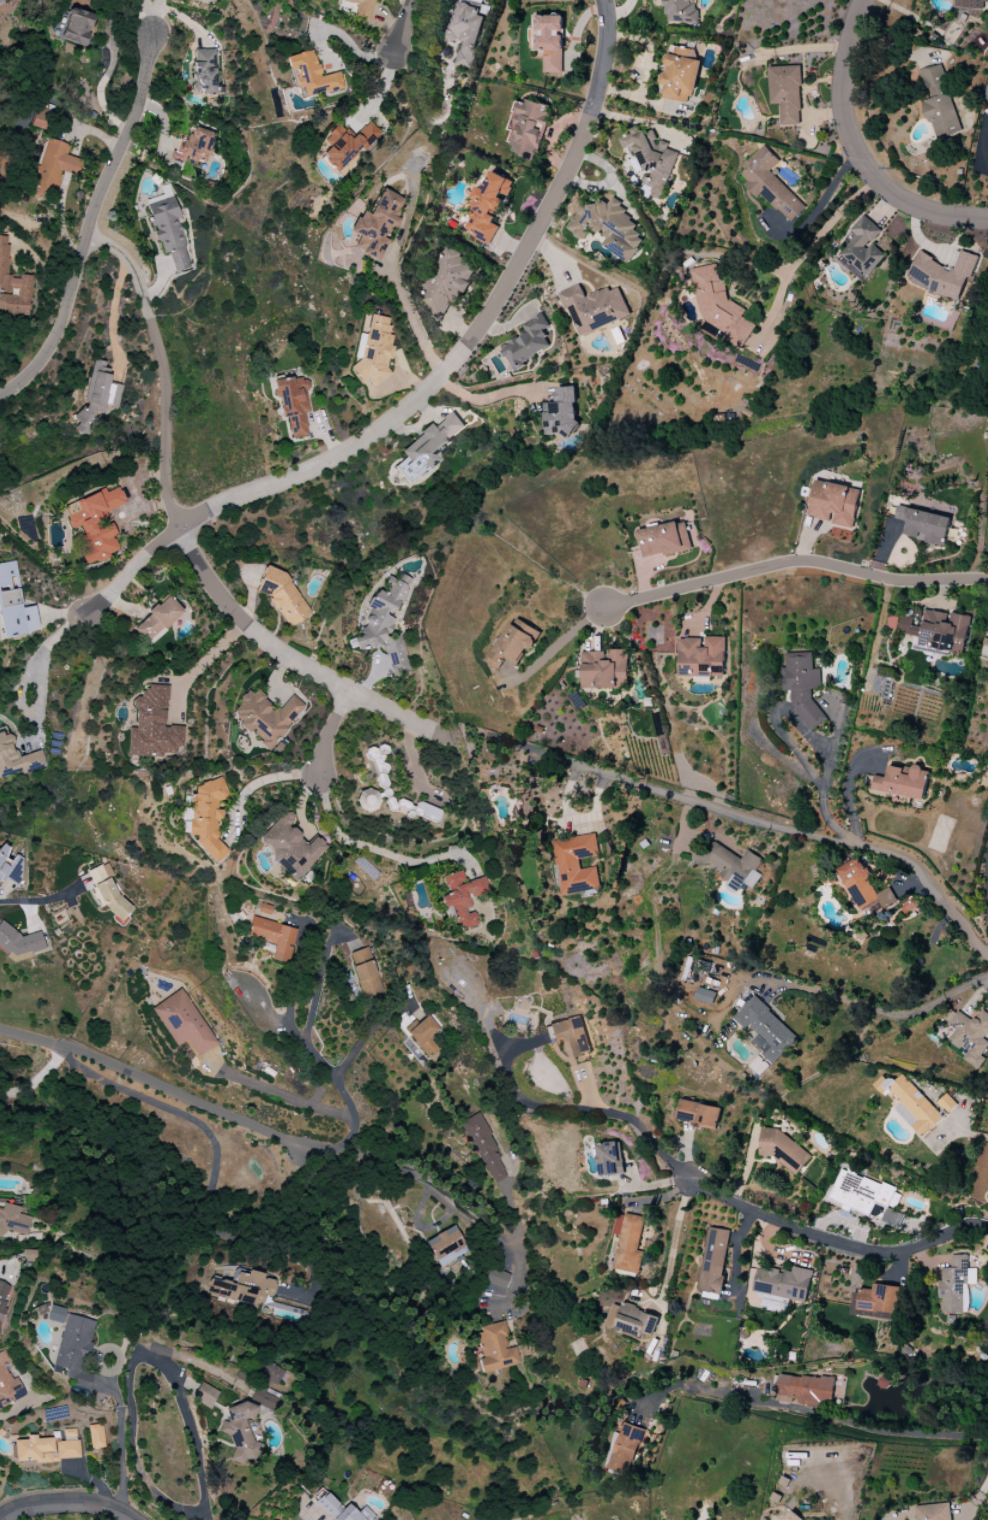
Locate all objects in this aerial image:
building: (970, 4)
building: (361, 8)
building: (680, 11)
road: (149, 17)
road: (403, 26)
building: (75, 27)
building: (465, 30)
building: (548, 40)
building: (204, 71)
building: (680, 74)
building: (311, 75)
building: (786, 93)
building: (986, 93)
building: (939, 104)
building: (40, 116)
building: (530, 128)
road: (983, 144)
building: (347, 145)
building: (194, 147)
road: (855, 152)
building: (652, 158)
building: (53, 167)
building: (770, 184)
building: (488, 206)
road: (89, 224)
building: (376, 225)
building: (608, 226)
building: (168, 228)
road: (808, 236)
building: (863, 249)
road: (128, 263)
building: (943, 274)
building: (447, 280)
road: (157, 283)
building: (13, 286)
building: (594, 308)
building: (719, 308)
road: (113, 313)
road: (148, 315)
road: (412, 317)
road: (476, 331)
building: (528, 342)
building: (374, 351)
building: (96, 398)
road: (487, 398)
building: (294, 404)
building: (561, 413)
road: (166, 424)
building: (430, 446)
building: (834, 503)
building: (95, 524)
building: (924, 525)
building: (664, 540)
road: (794, 562)
road: (131, 572)
building: (282, 596)
building: (14, 605)
building: (158, 620)
building: (386, 622)
road: (244, 627)
building: (937, 632)
road: (54, 640)
building: (513, 643)
road: (560, 644)
building: (701, 657)
road: (203, 666)
building: (605, 669)
building: (802, 685)
road: (28, 711)
road: (397, 716)
building: (266, 717)
building: (153, 726)
road: (331, 732)
building: (16, 758)
road: (826, 775)
road: (263, 780)
building: (902, 782)
building: (434, 815)
building: (207, 818)
road: (760, 823)
building: (290, 846)
road: (375, 851)
building: (576, 864)
building: (10, 866)
building: (731, 866)
building: (863, 886)
building: (108, 891)
building: (462, 897)
road: (41, 901)
road: (880, 907)
building: (272, 937)
building: (18, 943)
building: (365, 972)
road: (322, 974)
road: (290, 982)
building: (705, 995)
road: (883, 1012)
building: (183, 1023)
building: (766, 1029)
building: (570, 1035)
building: (969, 1035)
building: (424, 1036)
road: (366, 1039)
road: (38, 1080)
road: (159, 1085)
road: (291, 1096)
road: (527, 1098)
road: (346, 1099)
building: (946, 1103)
building: (911, 1104)
building: (698, 1114)
road: (641, 1126)
road: (970, 1132)
building: (484, 1150)
building: (783, 1150)
building: (610, 1158)
road: (214, 1172)
building: (863, 1194)
road: (444, 1196)
building: (12, 1220)
road: (835, 1240)
road: (675, 1241)
building: (628, 1243)
building: (445, 1246)
building: (28, 1255)
building: (714, 1261)
building: (496, 1279)
building: (954, 1283)
building: (241, 1288)
building: (877, 1301)
building: (1, 1307)
building: (56, 1314)
building: (632, 1320)
building: (494, 1348)
building: (74, 1349)
road: (132, 1362)
building: (273, 1375)
building: (8, 1383)
building: (806, 1389)
building: (205, 1395)
building: (264, 1398)
road: (21, 1408)
road: (835, 1419)
building: (240, 1432)
building: (96, 1436)
road: (122, 1436)
building: (625, 1449)
building: (45, 1450)
road: (66, 1503)
building: (341, 1510)
building: (933, 1512)
building: (792, 1516)
road: (208, 1518)

